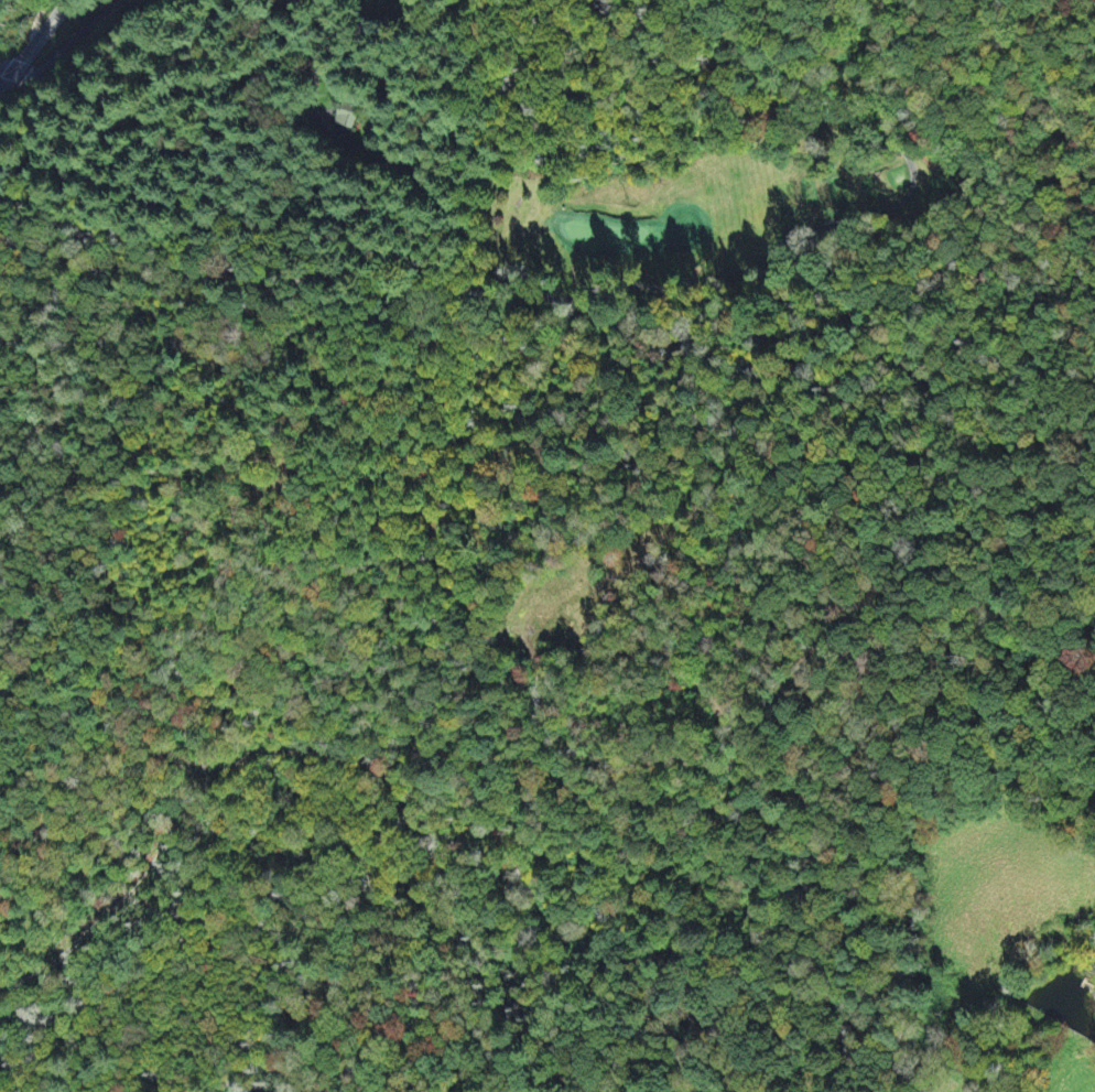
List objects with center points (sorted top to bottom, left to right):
road: (33, 41)
building: (346, 118)
park: (709, 169)

